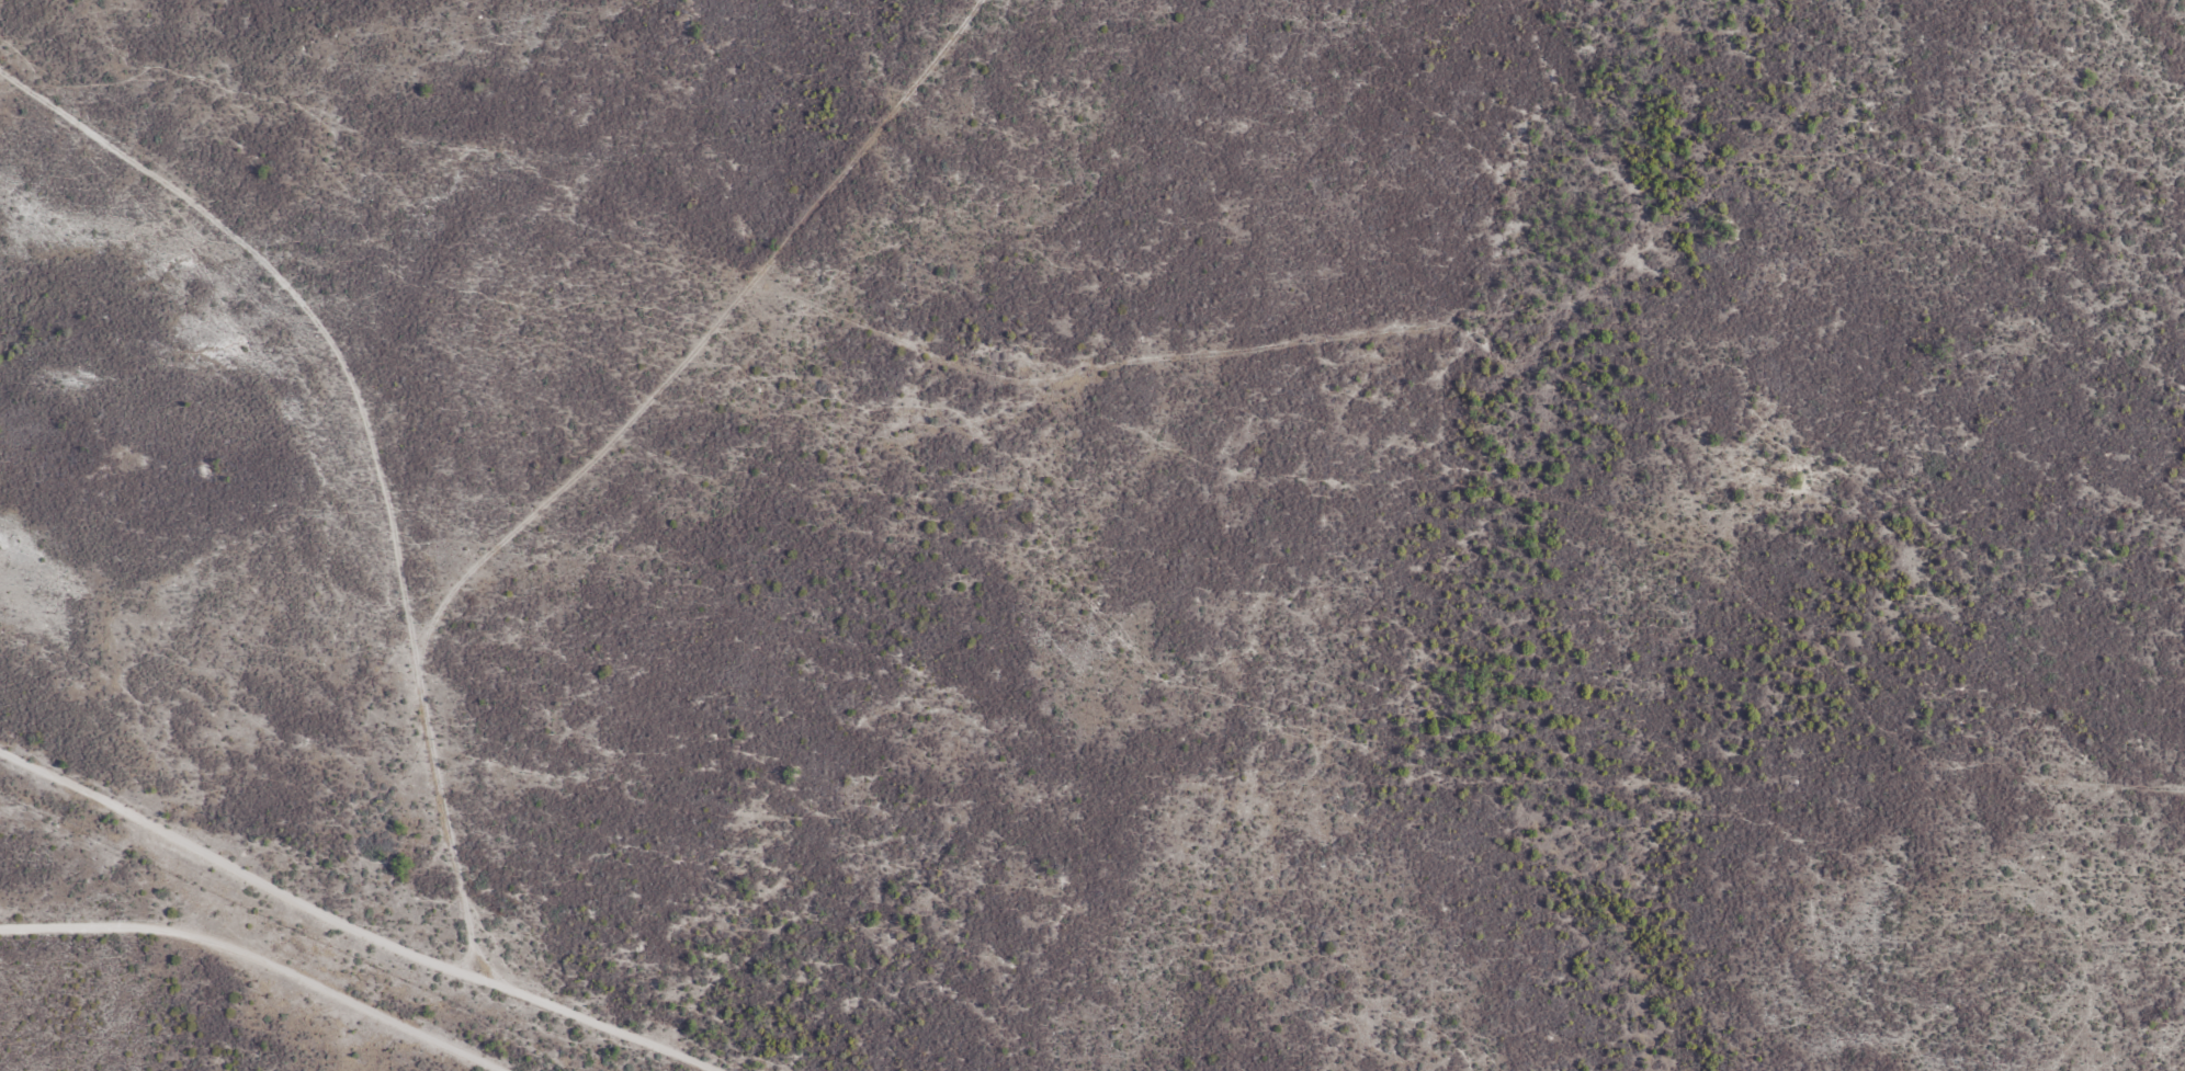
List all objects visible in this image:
road: (350, 922)
road: (272, 958)

